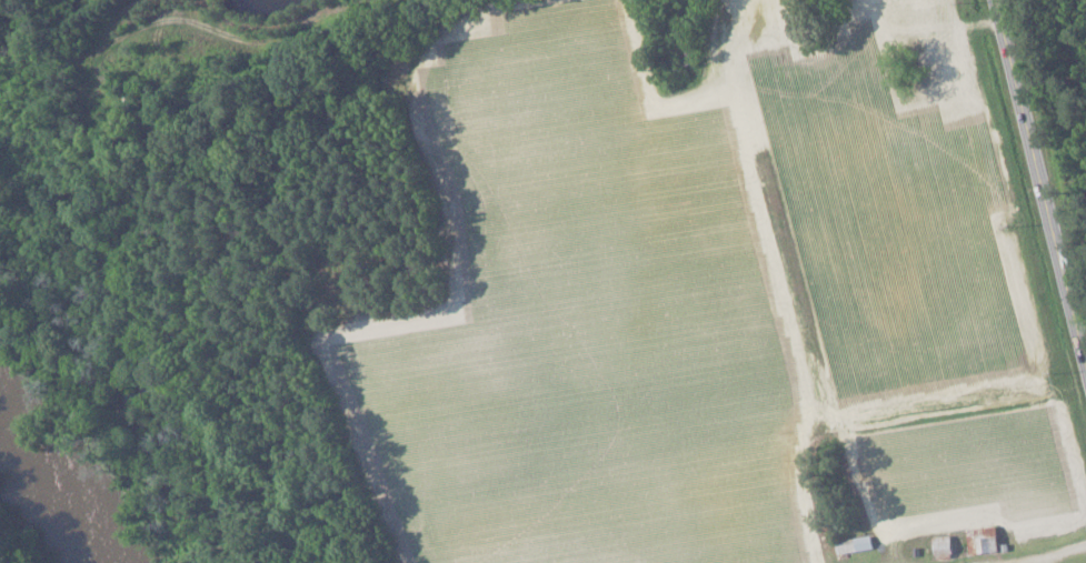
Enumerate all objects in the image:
road: (1033, 188)
river: (54, 486)
building: (982, 539)
building: (853, 544)
road: (1059, 551)

